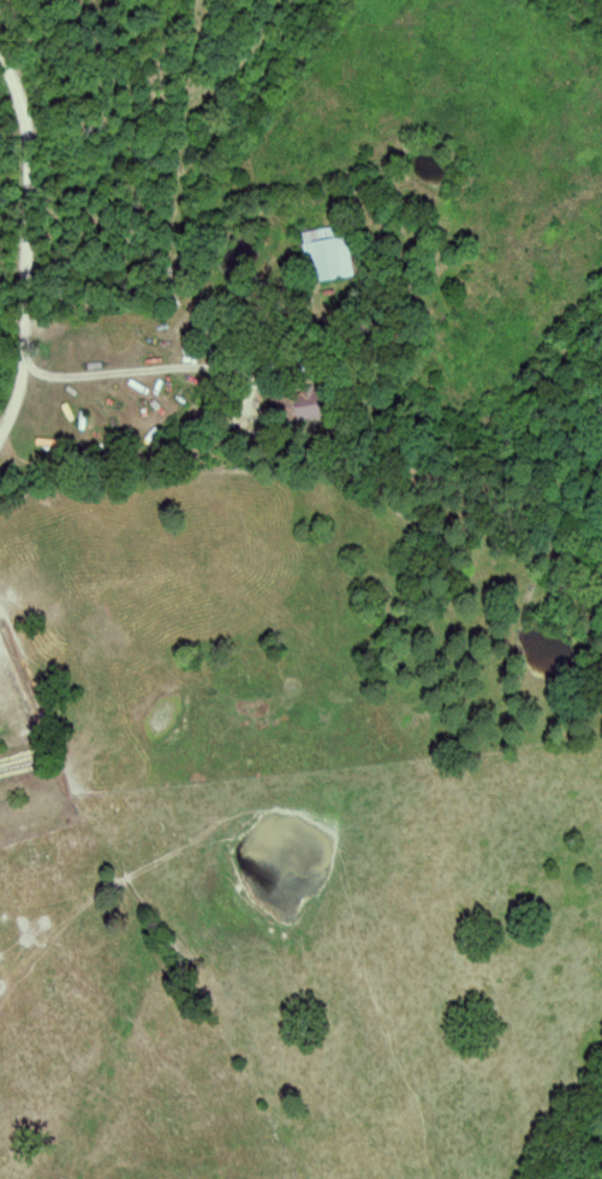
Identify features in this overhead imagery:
road: (10, 242)
building: (340, 254)

